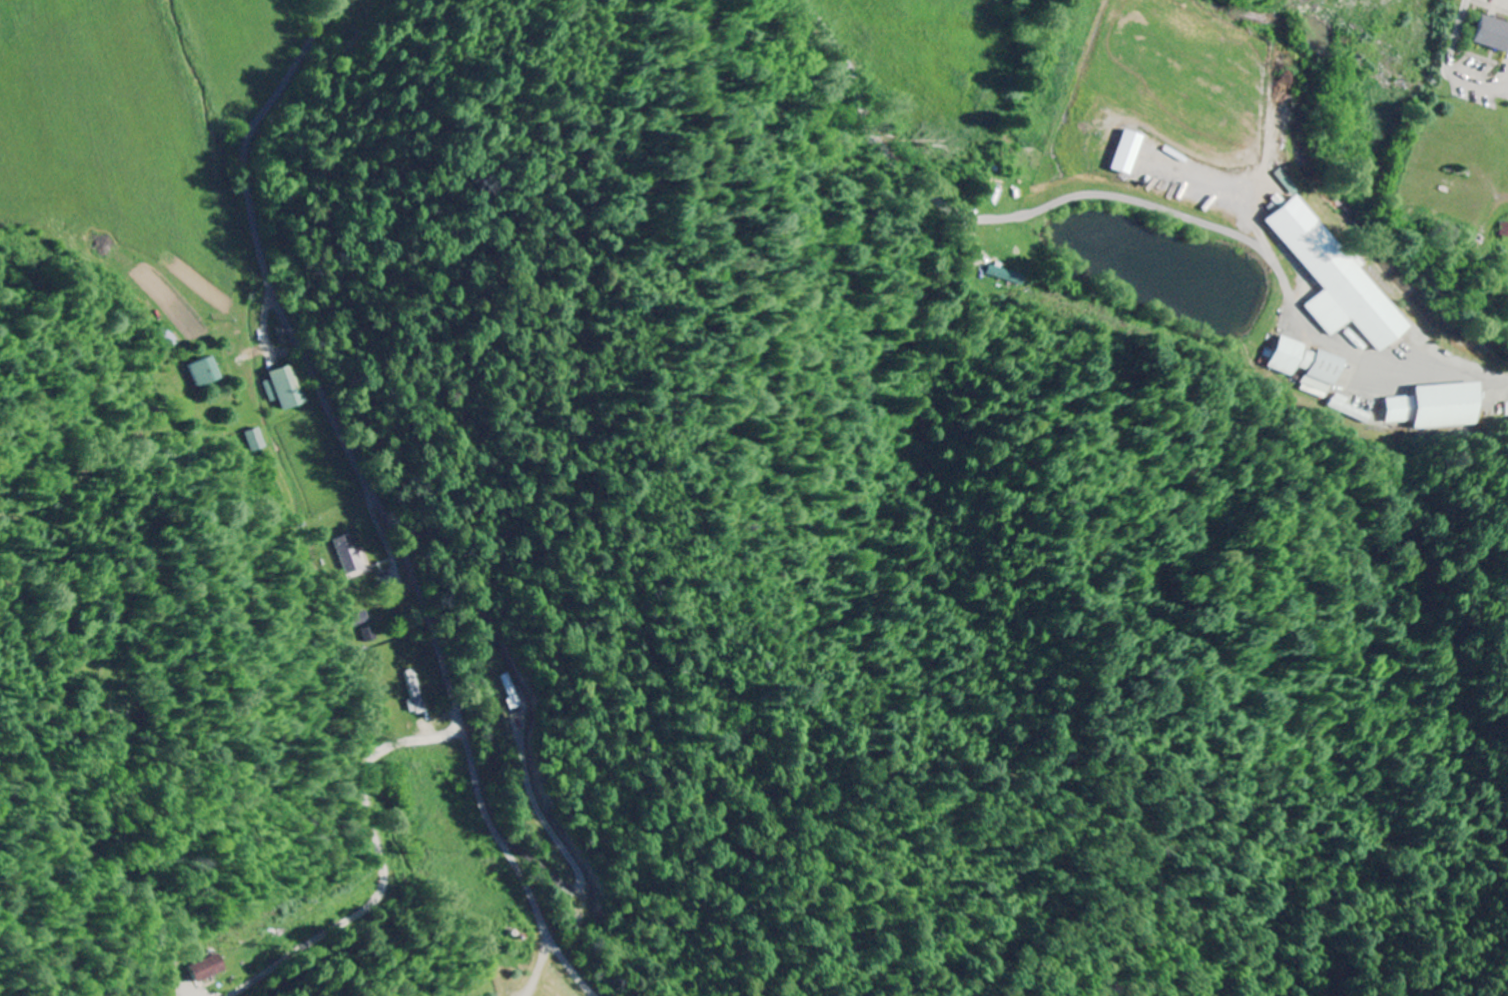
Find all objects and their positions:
building: (1491, 34)
building: (1130, 152)
river: (1328, 186)
building: (998, 195)
road: (1011, 218)
road: (974, 230)
building: (1006, 275)
building: (1337, 278)
road: (266, 324)
road: (1383, 362)
building: (1311, 366)
building: (206, 372)
building: (286, 388)
building: (1442, 406)
building: (1356, 409)
building: (256, 440)
road: (387, 499)
building: (349, 555)
building: (361, 619)
building: (370, 635)
road: (383, 855)
building: (206, 968)

